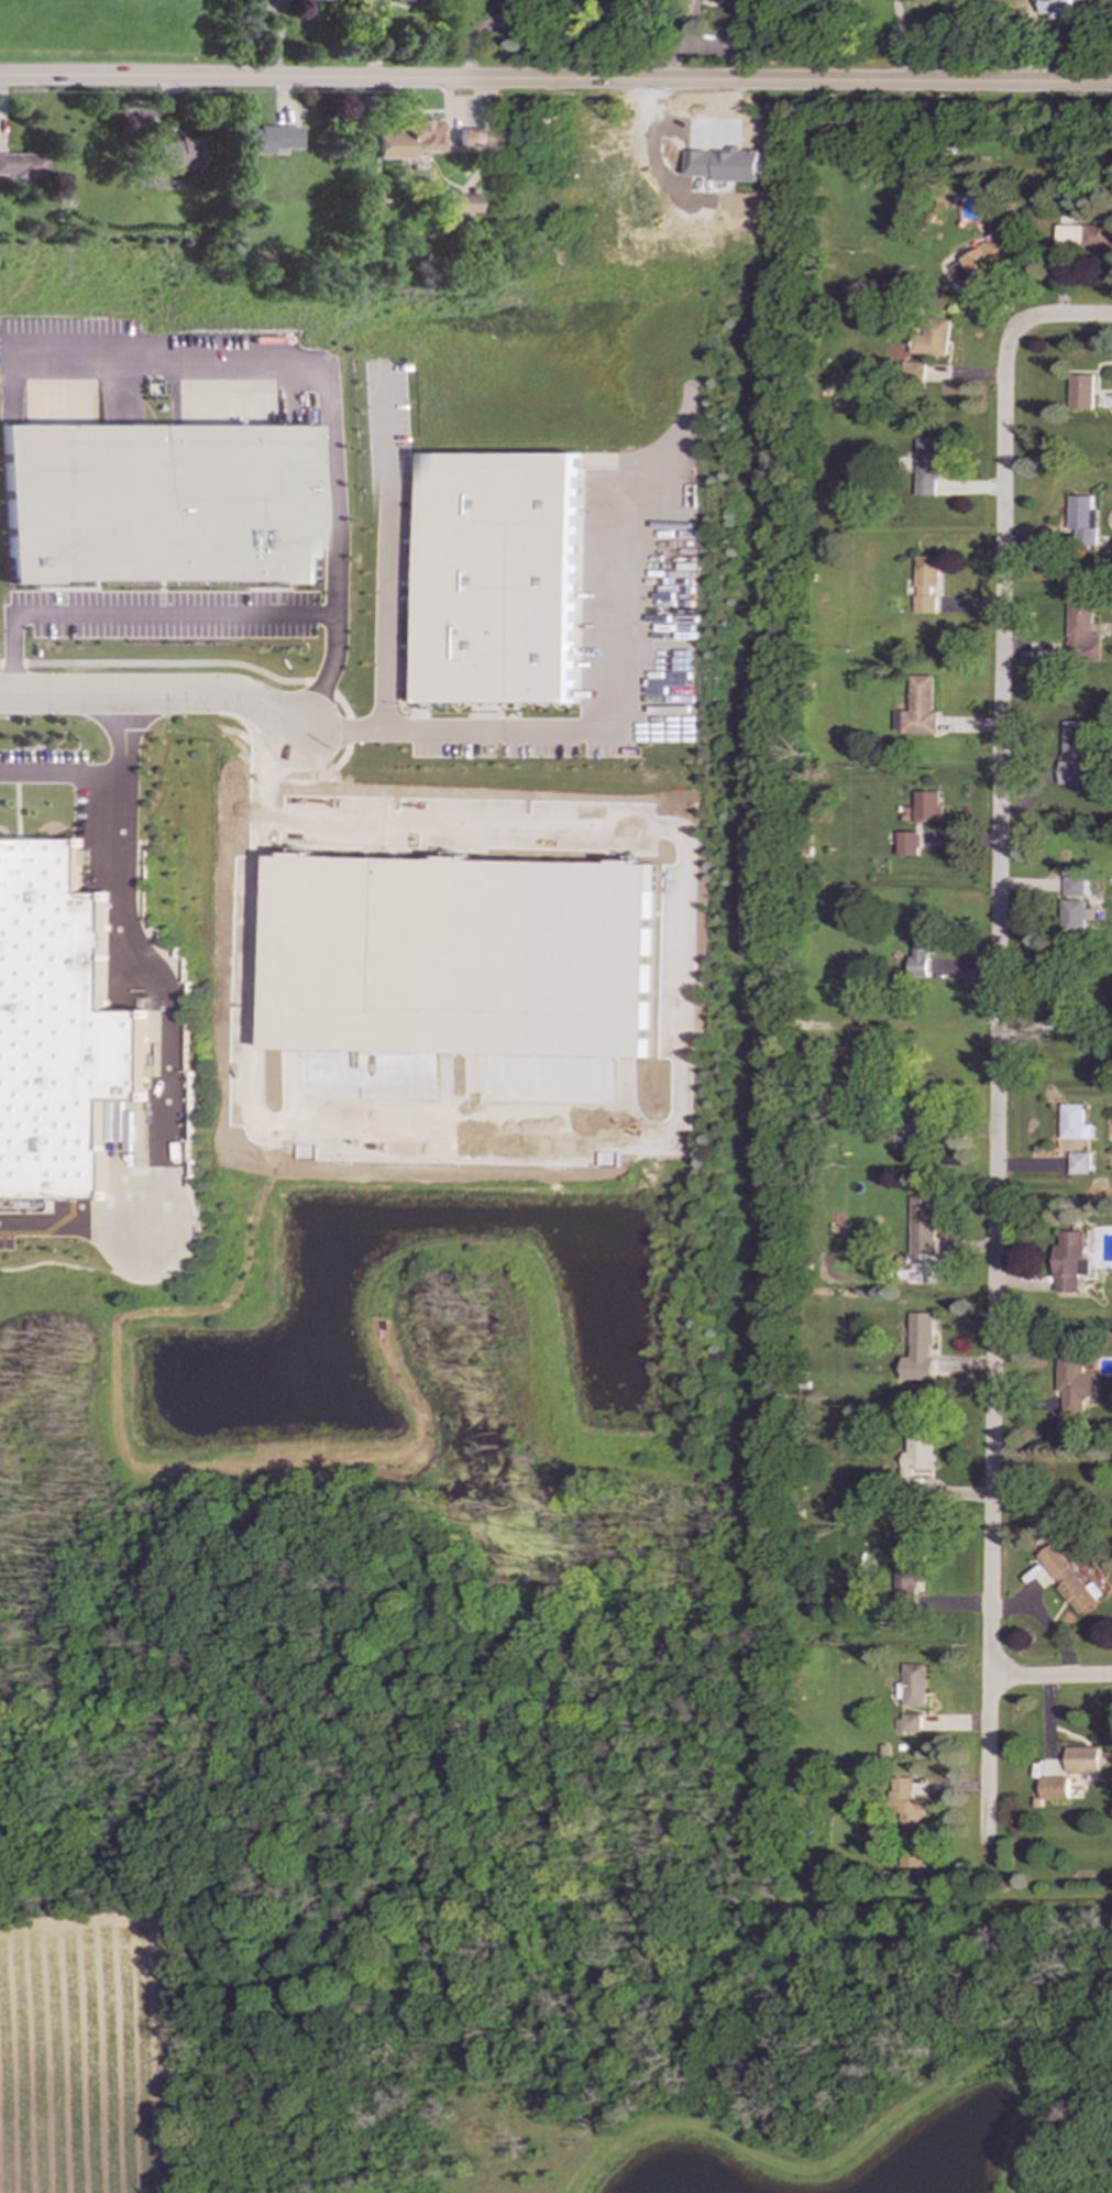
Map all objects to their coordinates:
building: (315, 0)
building: (1054, 7)
crop: (108, 32)
road: (898, 41)
road: (555, 81)
building: (471, 138)
building: (268, 139)
building: (408, 140)
building: (180, 153)
building: (22, 165)
building: (726, 165)
building: (462, 204)
building: (1082, 237)
building: (982, 259)
road: (1010, 331)
building: (929, 339)
building: (911, 372)
building: (1079, 393)
road: (335, 399)
building: (925, 467)
building: (166, 504)
building: (1080, 522)
road: (386, 548)
building: (496, 578)
building: (924, 584)
road: (162, 585)
road: (75, 590)
road: (269, 590)
road: (64, 602)
road: (276, 602)
road: (162, 603)
parking lot: (170, 614)
road: (136, 615)
building: (1080, 634)
building: (577, 666)
road: (280, 680)
road: (154, 694)
building: (916, 710)
road: (582, 730)
building: (1076, 757)
parking lot: (44, 767)
road: (60, 775)
building: (925, 805)
building: (905, 844)
building: (1071, 886)
building: (1070, 917)
building: (921, 942)
road: (150, 965)
building: (1063, 1013)
building: (60, 1029)
building: (918, 1111)
building: (1071, 1123)
road: (992, 1133)
building: (1077, 1164)
road: (81, 1221)
building: (921, 1225)
parking lot: (7, 1232)
building: (1068, 1262)
building: (917, 1349)
building: (1074, 1385)
building: (1053, 1435)
building: (915, 1454)
building: (907, 1569)
building: (1067, 1581)
road: (1049, 1677)
building: (911, 1686)
building: (906, 1722)
building: (1080, 1759)
building: (1052, 1788)
building: (904, 1806)
building: (909, 1860)
crop: (90, 2055)

